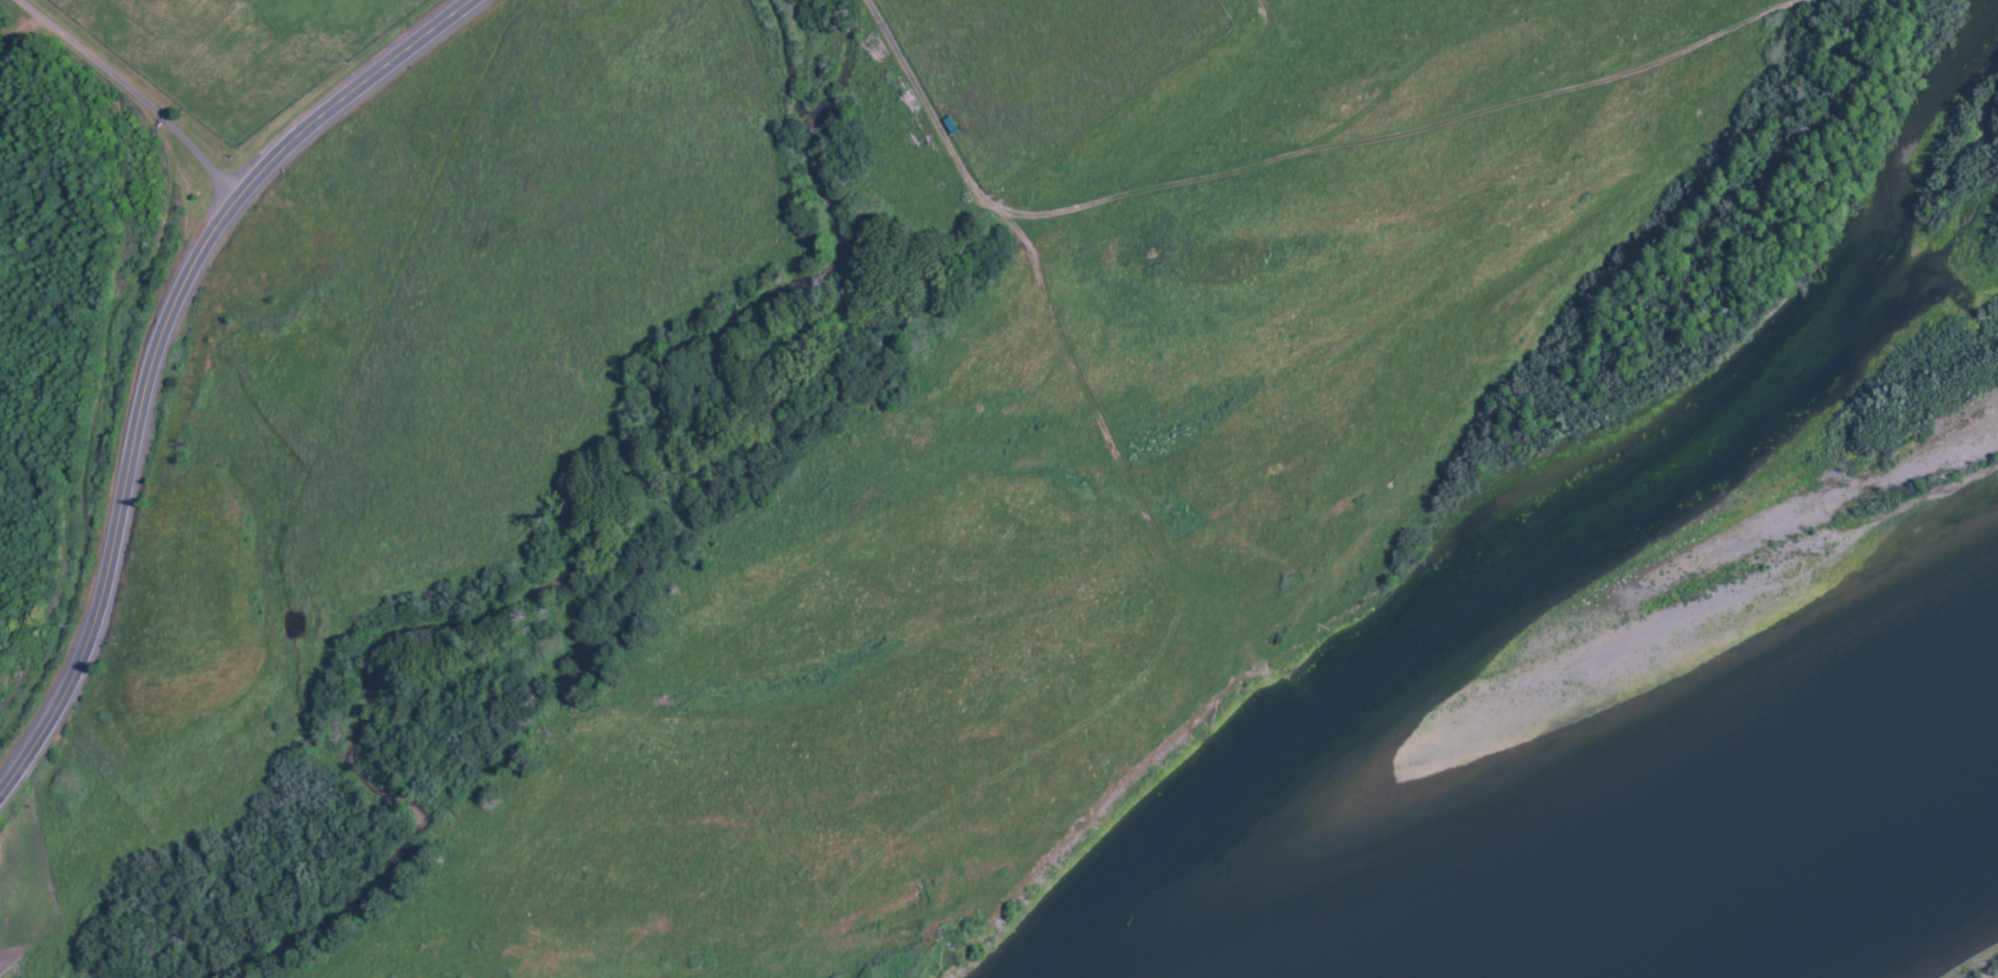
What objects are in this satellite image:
road: (131, 93)
road: (159, 345)
river: (1700, 735)

